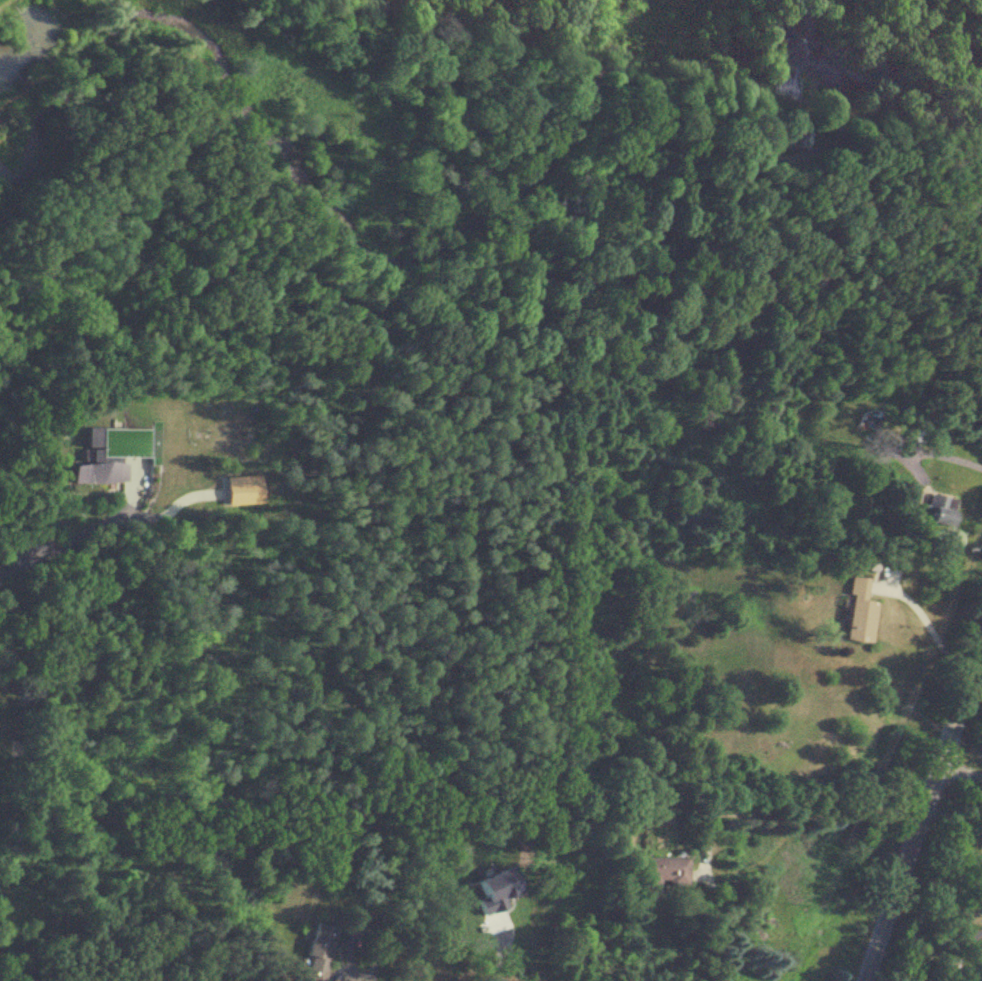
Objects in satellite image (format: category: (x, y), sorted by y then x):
building: (801, 51)
road: (913, 72)
road: (936, 453)
building: (97, 462)
building: (936, 508)
road: (58, 539)
building: (858, 610)
road: (930, 625)
road: (960, 769)
road: (792, 809)
road: (922, 813)
road: (953, 819)
building: (658, 869)
road: (934, 943)
building: (318, 948)
road: (494, 960)
road: (523, 969)
road: (355, 974)

